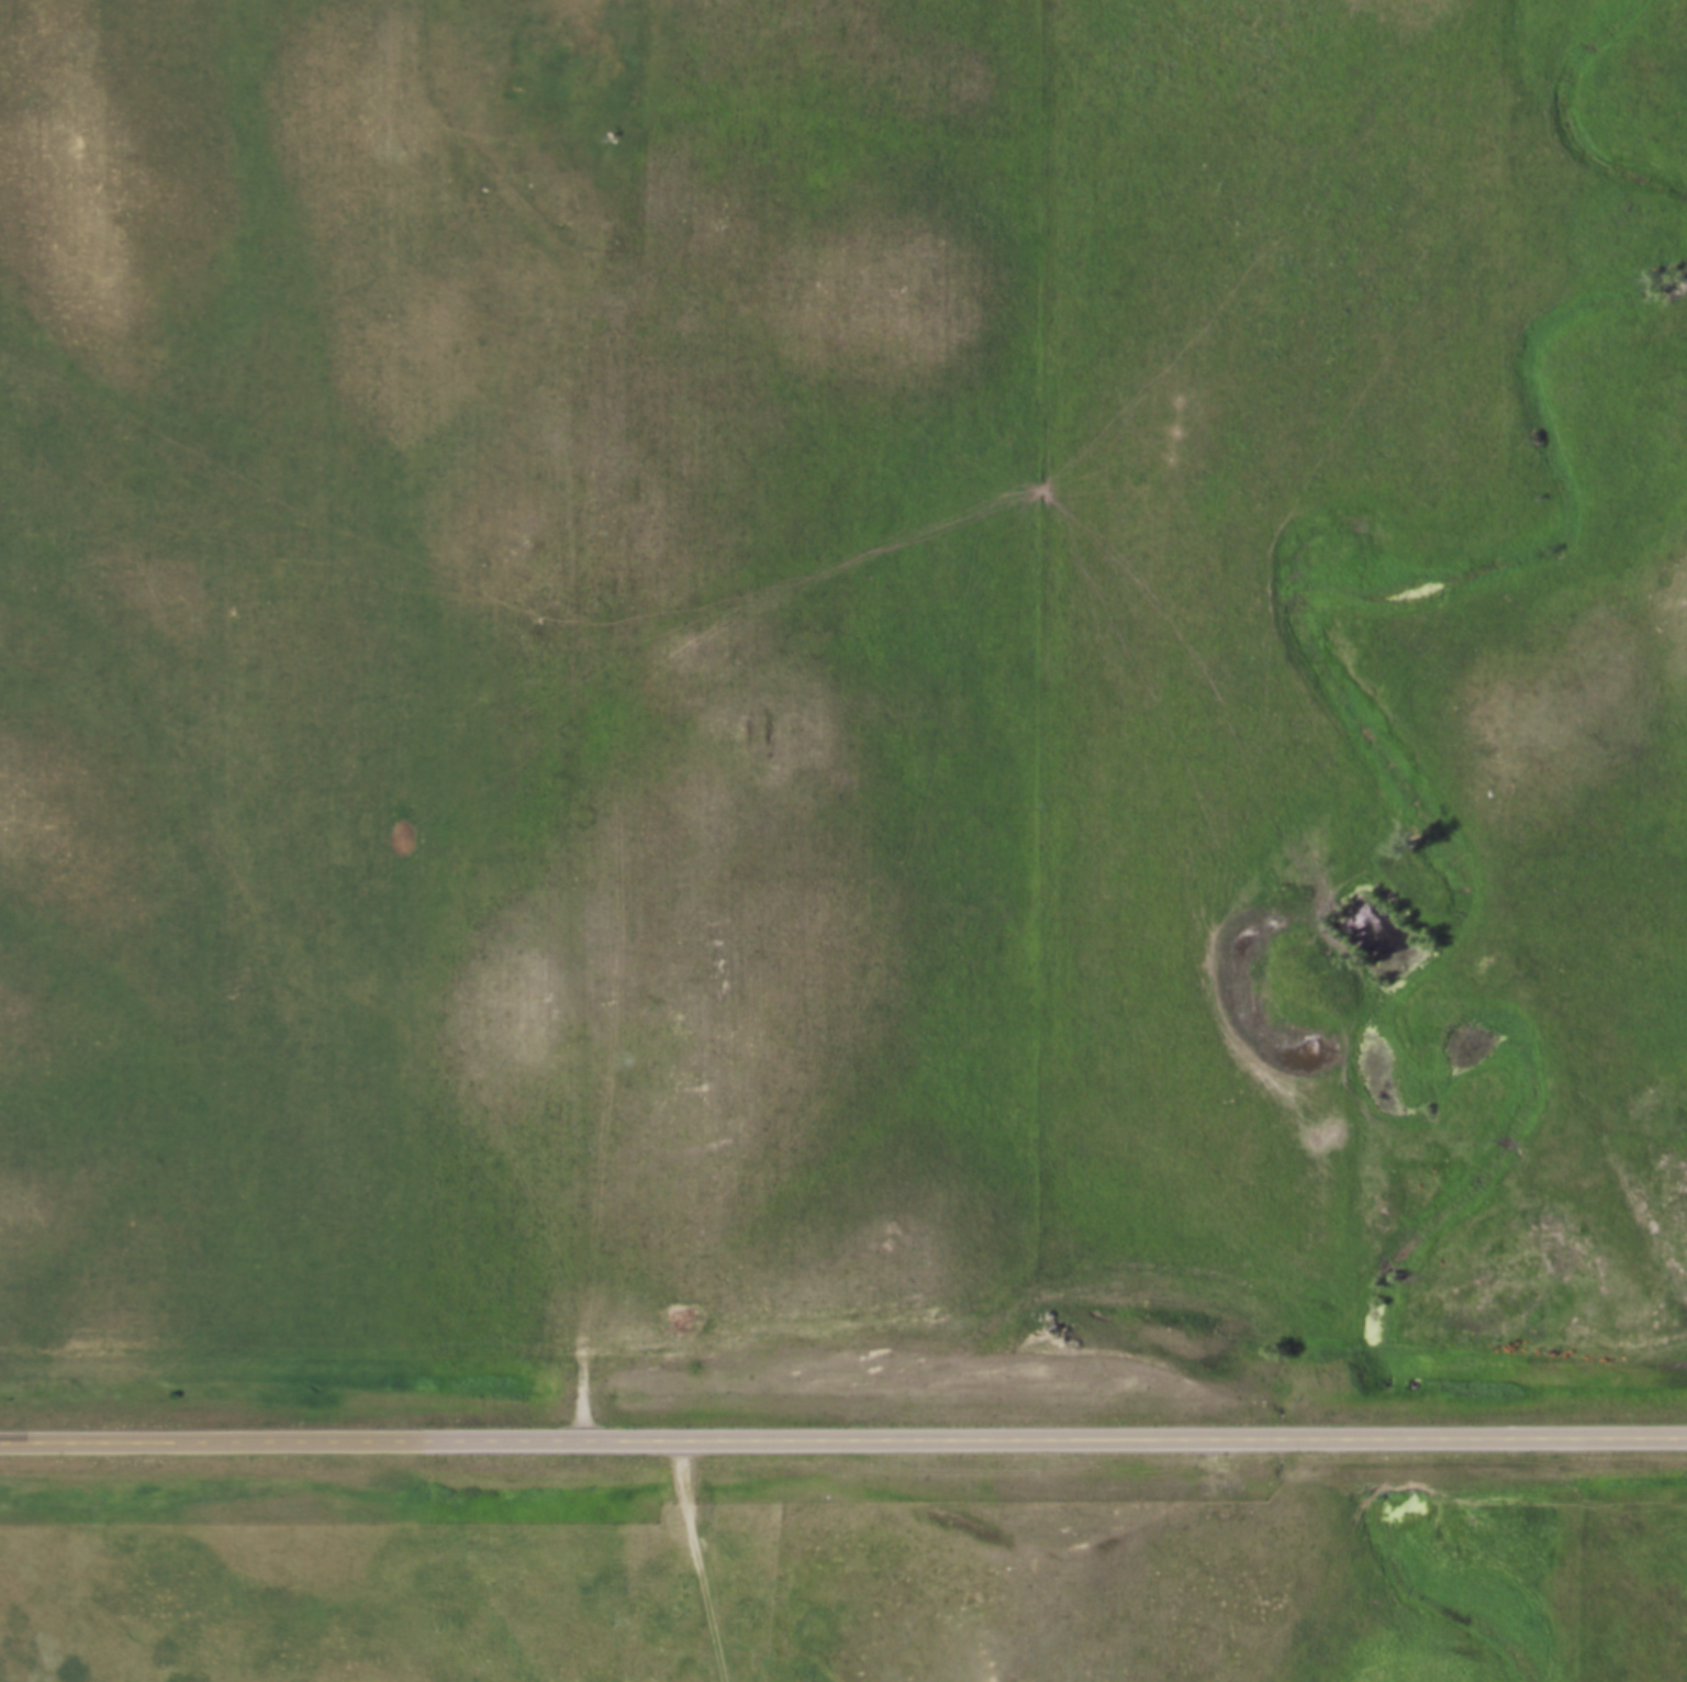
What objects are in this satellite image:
road: (774, 1444)
road: (1618, 1446)

